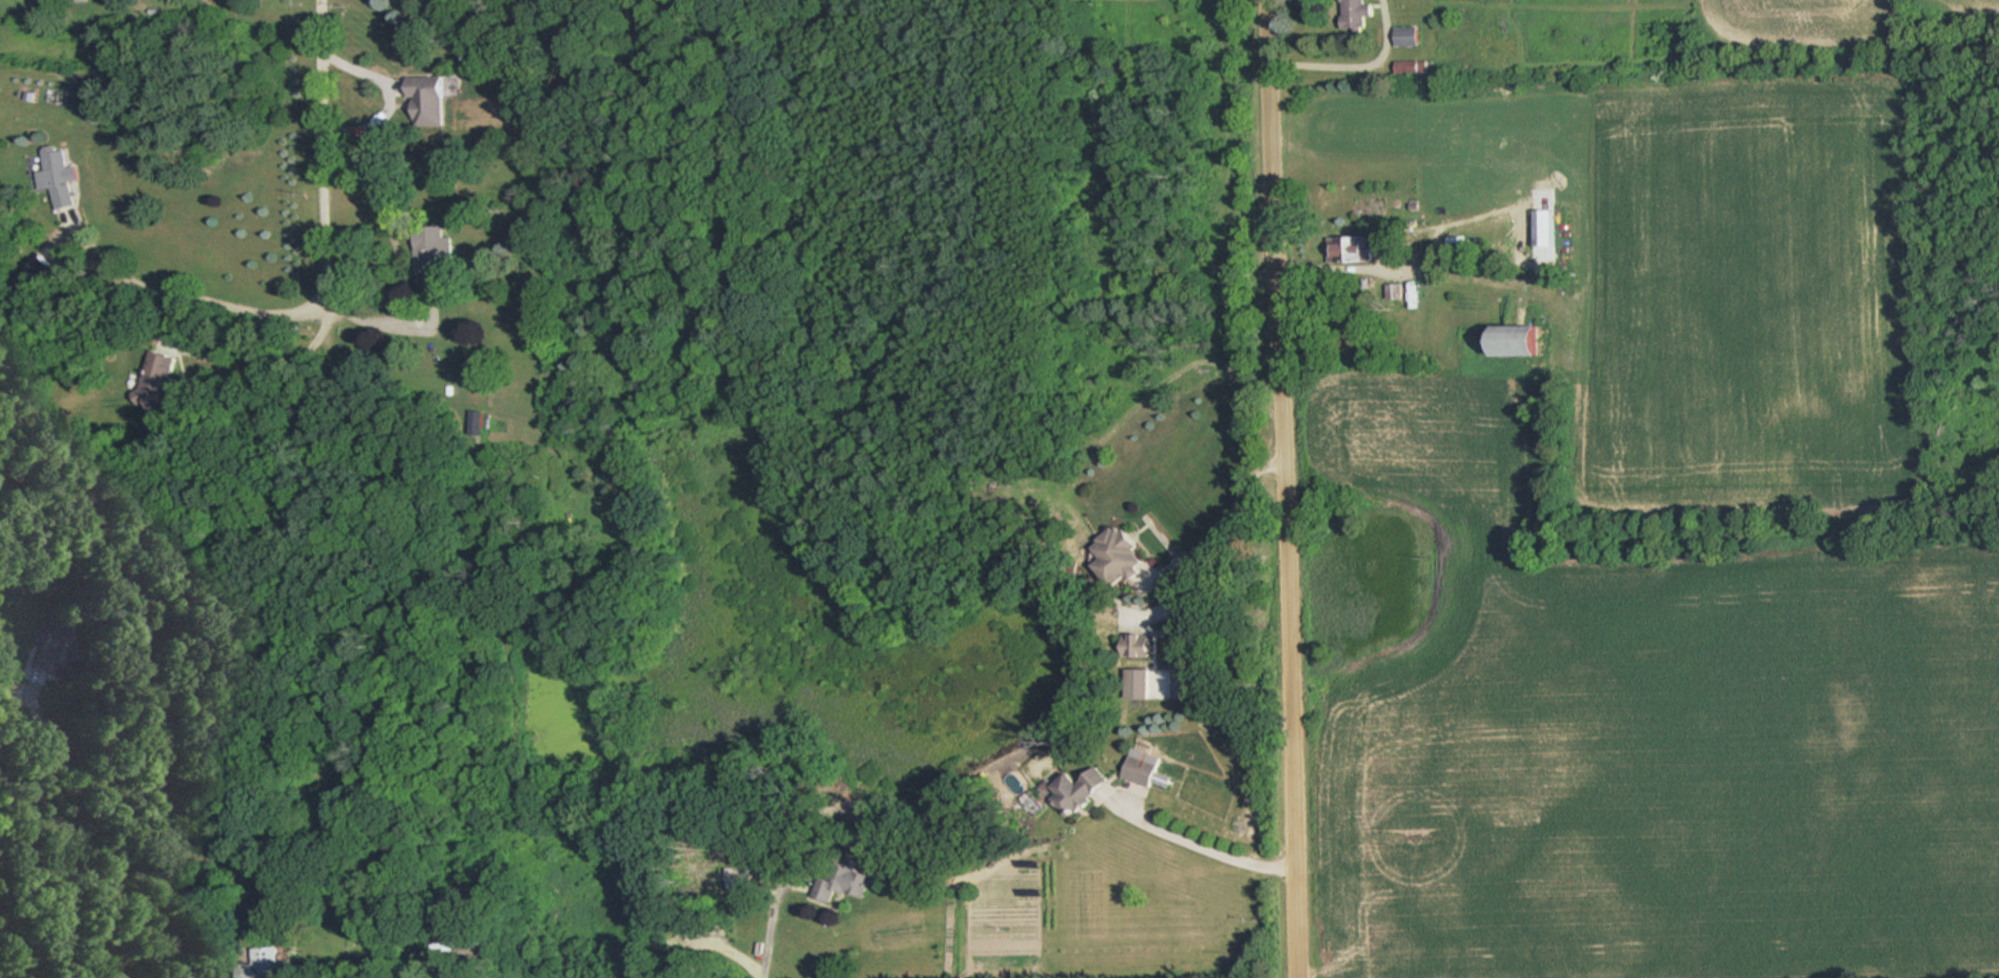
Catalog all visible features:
building: (1357, 14)
building: (1409, 37)
building: (1415, 68)
building: (429, 104)
road: (323, 145)
building: (58, 175)
building: (1547, 227)
building: (1351, 249)
building: (433, 254)
building: (1523, 339)
building: (156, 378)
building: (475, 419)
road: (1282, 489)
road: (1241, 506)
building: (1119, 555)
building: (1137, 645)
building: (51, 646)
building: (1144, 771)
building: (1081, 790)
building: (845, 880)
building: (264, 965)

